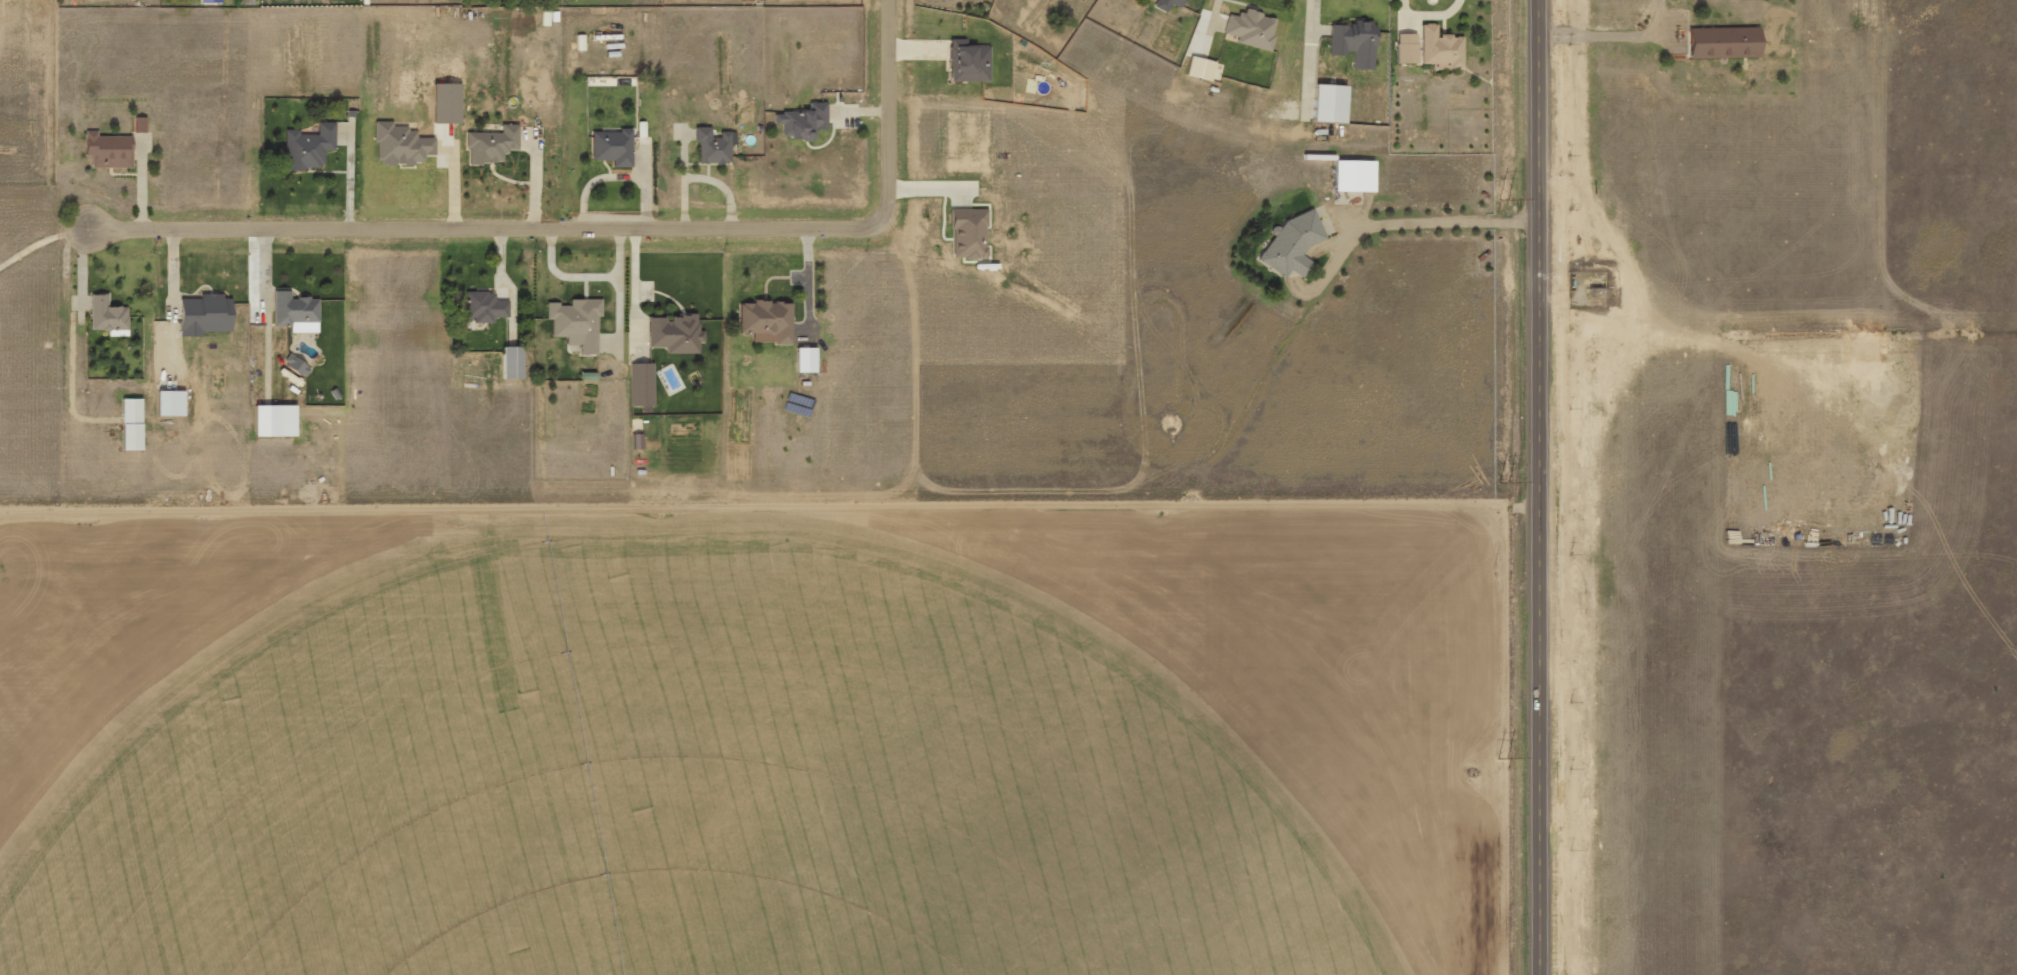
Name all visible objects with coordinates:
building: (1168, 4)
building: (1253, 29)
building: (1726, 42)
building: (1356, 43)
building: (1408, 49)
building: (1442, 49)
building: (965, 63)
building: (1202, 68)
building: (1332, 104)
building: (799, 122)
building: (139, 125)
building: (487, 144)
building: (609, 146)
building: (708, 146)
building: (108, 151)
building: (304, 151)
building: (1357, 176)
power tower: (1502, 206)
road: (328, 227)
road: (849, 228)
building: (965, 233)
building: (1295, 244)
building: (483, 306)
building: (294, 312)
building: (206, 316)
building: (108, 317)
building: (573, 322)
building: (671, 333)
building: (800, 361)
building: (172, 404)
building: (272, 422)
building: (133, 426)
power tower: (1504, 486)
road: (1539, 487)
power tower: (1504, 768)
crop: (680, 787)

